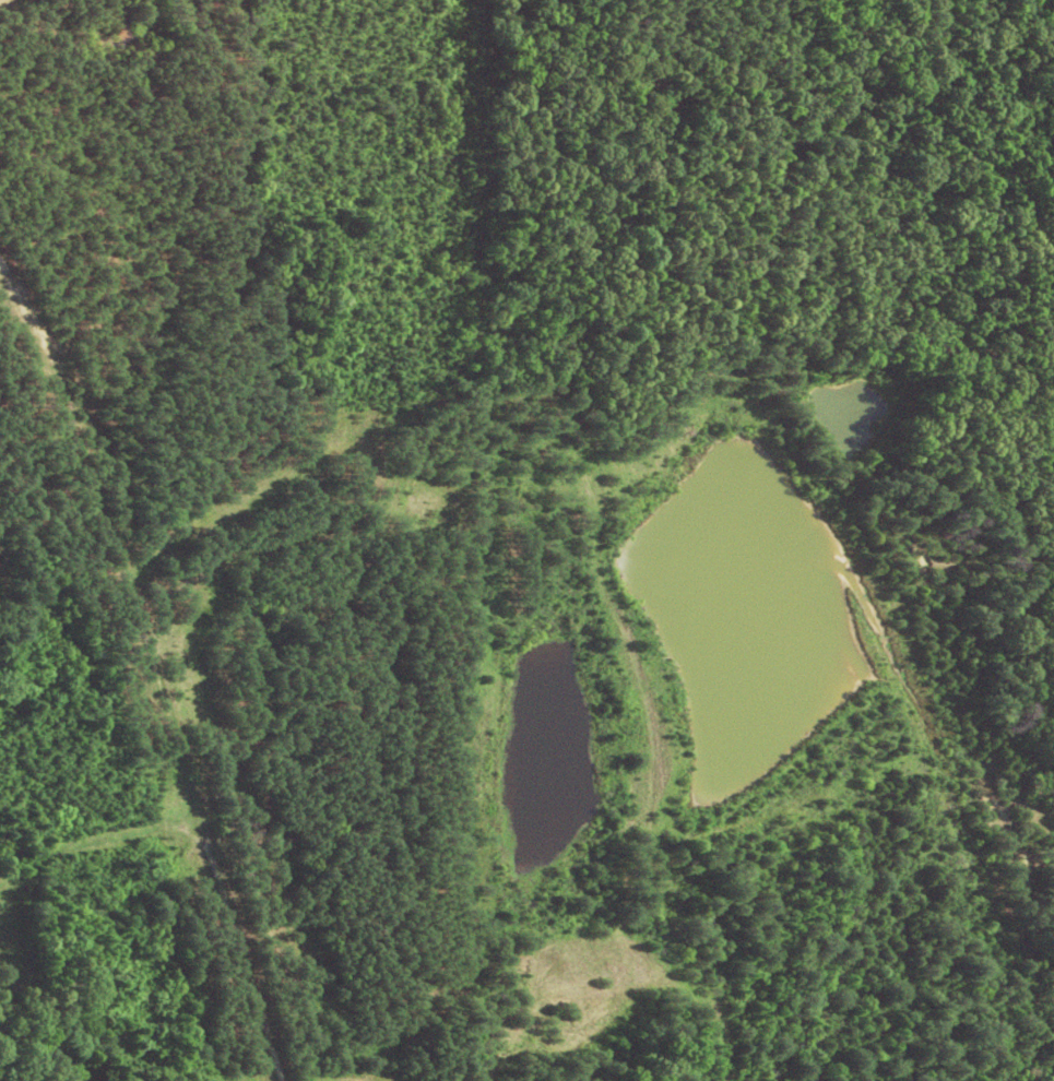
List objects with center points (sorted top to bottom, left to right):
road: (985, 689)

